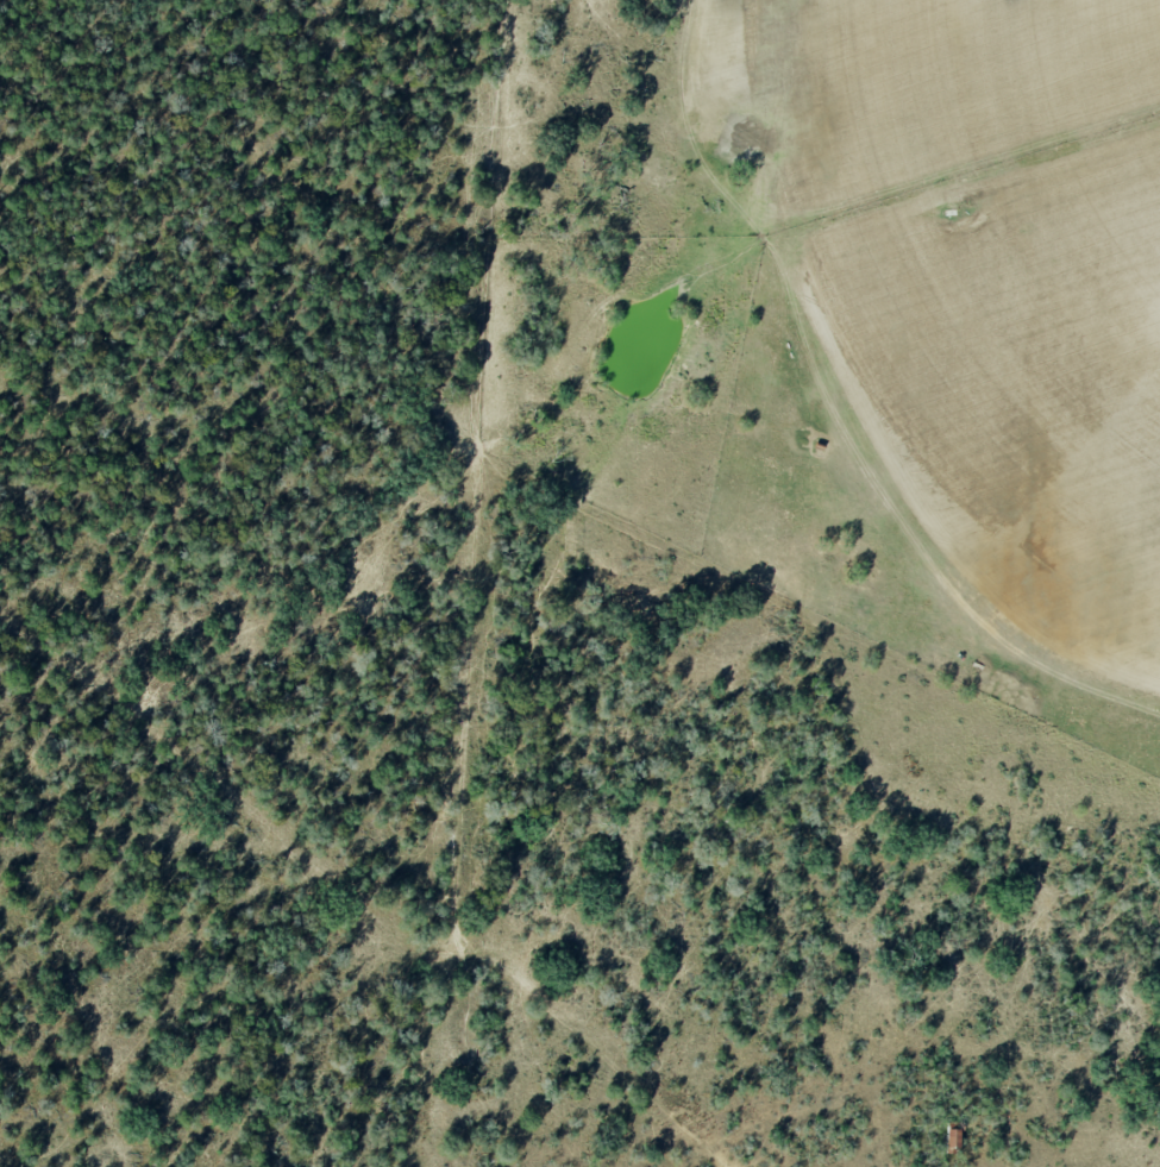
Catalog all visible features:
road: (1004, 1156)

